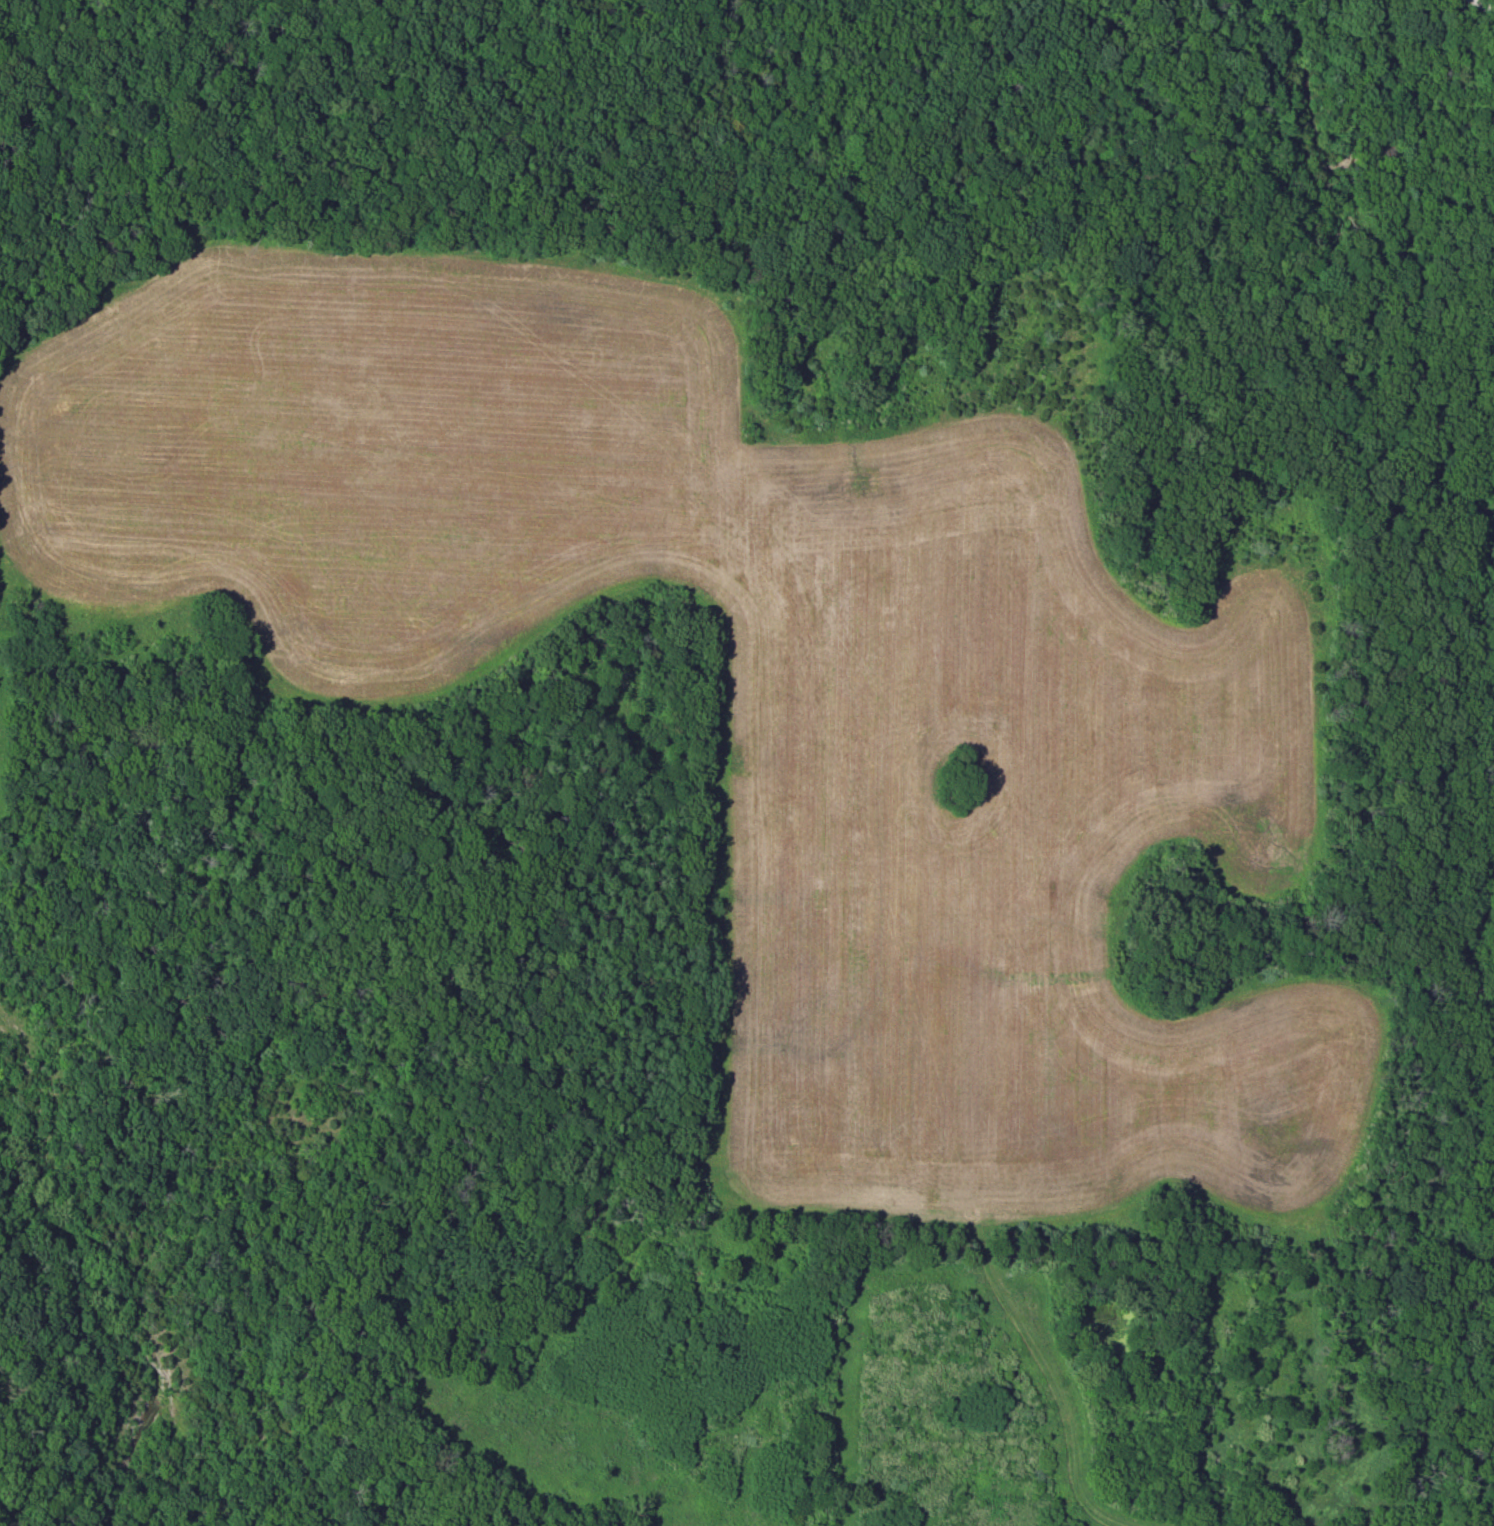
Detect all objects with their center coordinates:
park: (377, 108)
road: (454, 207)
park: (762, 749)
road: (1, 1021)
road: (142, 1249)
park: (78, 1375)
road: (1066, 1379)

